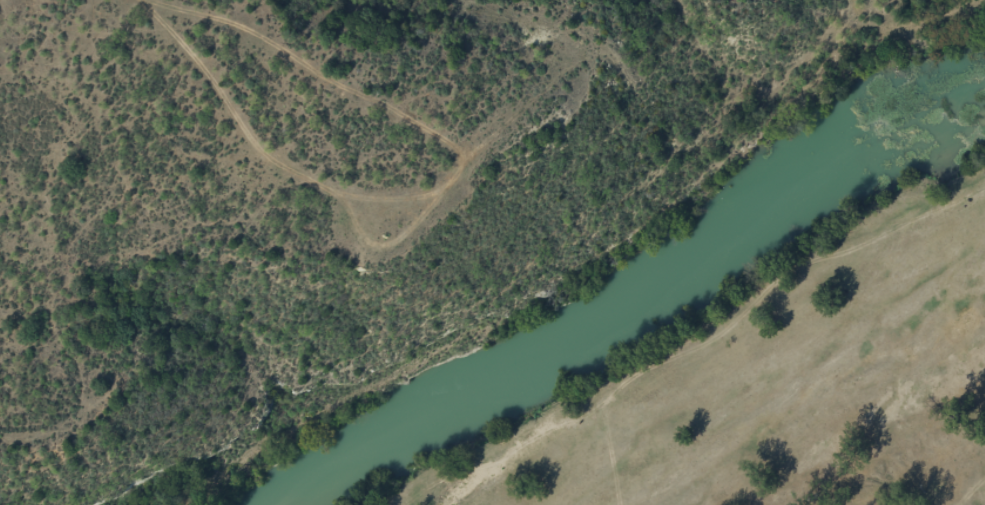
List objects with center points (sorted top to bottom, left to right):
river: (650, 293)

